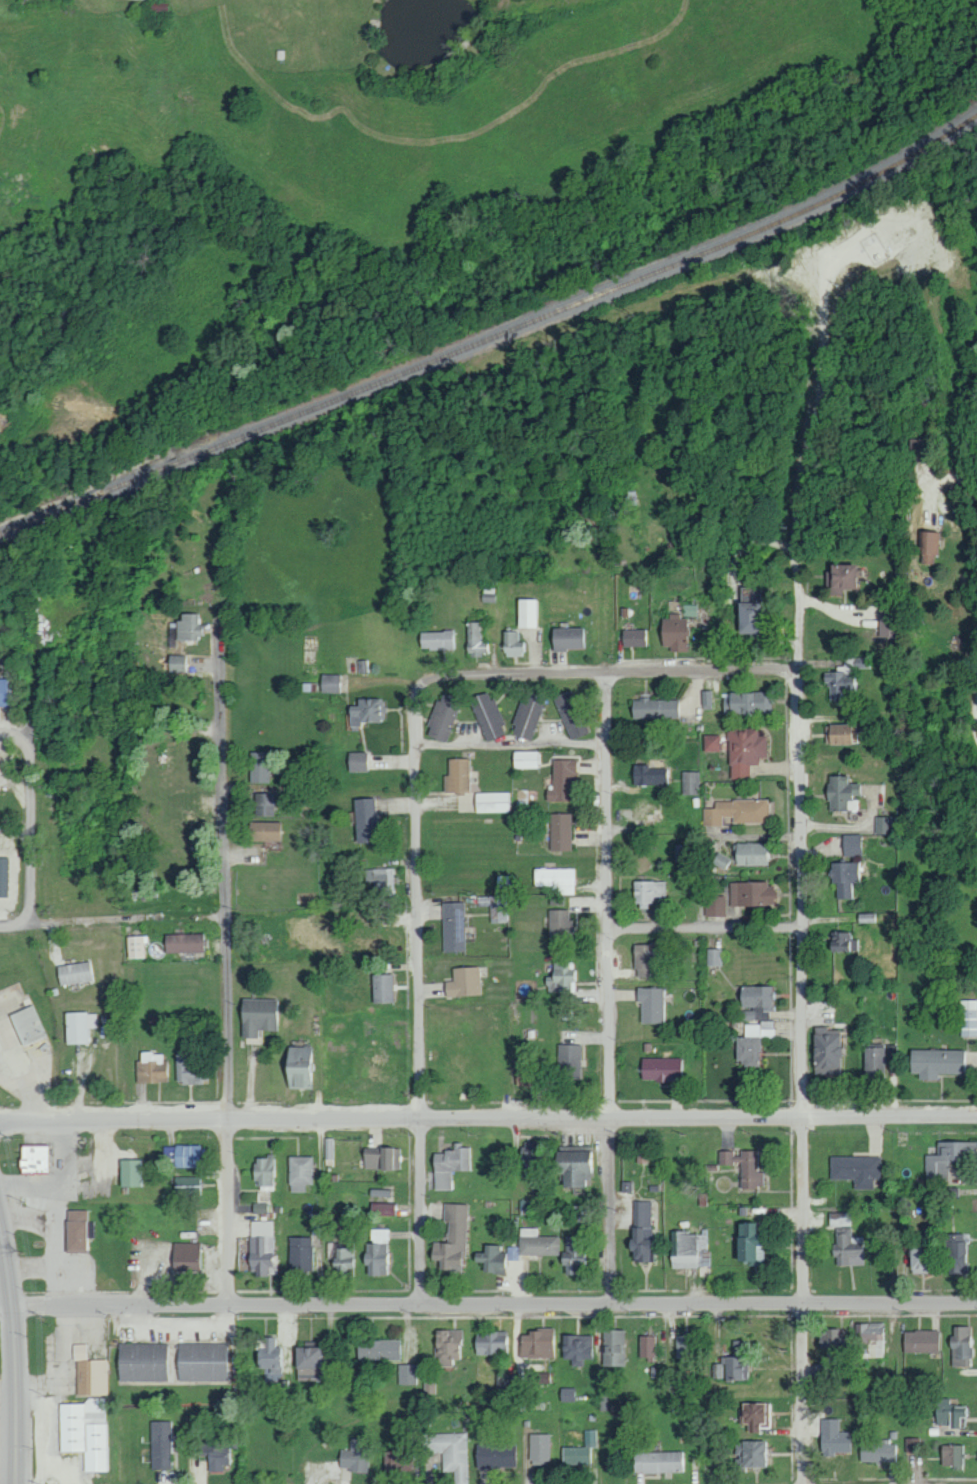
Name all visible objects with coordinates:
building: (31, 0)
building: (159, 6)
building: (0, 312)
railway: (494, 337)
building: (929, 545)
building: (839, 576)
building: (747, 611)
building: (527, 612)
building: (886, 622)
building: (672, 632)
building: (632, 637)
building: (568, 638)
building: (437, 639)
building: (477, 639)
building: (512, 644)
building: (177, 663)
road: (605, 672)
building: (840, 678)
building: (331, 682)
road: (24, 685)
building: (2, 692)
building: (706, 698)
building: (747, 702)
building: (654, 707)
building: (366, 711)
building: (527, 714)
building: (568, 714)
building: (487, 715)
building: (442, 716)
building: (838, 733)
road: (12, 735)
building: (711, 742)
building: (744, 749)
building: (524, 759)
building: (357, 761)
building: (260, 766)
building: (648, 774)
building: (456, 775)
building: (561, 780)
building: (690, 782)
building: (840, 792)
building: (493, 801)
building: (264, 803)
building: (737, 811)
building: (364, 819)
building: (882, 824)
road: (32, 826)
building: (264, 831)
building: (560, 831)
building: (851, 844)
building: (751, 853)
building: (722, 860)
building: (3, 876)
building: (556, 878)
building: (844, 878)
building: (381, 880)
building: (649, 891)
building: (751, 893)
building: (557, 900)
building: (715, 905)
building: (495, 906)
road: (112, 918)
building: (559, 922)
building: (453, 926)
road: (674, 931)
road: (605, 933)
building: (182, 942)
building: (842, 942)
building: (136, 946)
building: (715, 957)
building: (645, 959)
building: (73, 972)
building: (561, 977)
building: (463, 981)
building: (382, 988)
road: (228, 993)
building: (755, 1002)
building: (650, 1004)
building: (256, 1016)
building: (968, 1017)
building: (26, 1025)
building: (79, 1026)
building: (752, 1041)
road: (799, 1047)
building: (825, 1050)
building: (568, 1061)
building: (873, 1061)
building: (935, 1062)
building: (297, 1066)
building: (153, 1068)
building: (660, 1068)
building: (190, 1069)
road: (416, 1080)
road: (488, 1120)
building: (331, 1151)
building: (532, 1154)
building: (187, 1155)
building: (641, 1156)
building: (381, 1158)
building: (948, 1158)
building: (33, 1159)
building: (450, 1165)
building: (574, 1165)
building: (743, 1166)
building: (856, 1169)
building: (264, 1171)
building: (131, 1172)
building: (301, 1172)
building: (187, 1186)
building: (260, 1207)
building: (382, 1209)
building: (839, 1218)
building: (77, 1230)
building: (641, 1232)
building: (452, 1240)
building: (537, 1242)
building: (748, 1242)
building: (847, 1247)
building: (263, 1248)
building: (691, 1249)
building: (378, 1251)
building: (956, 1252)
building: (301, 1254)
building: (187, 1255)
building: (922, 1255)
building: (491, 1258)
building: (343, 1259)
building: (571, 1259)
road: (488, 1306)
building: (837, 1337)
building: (822, 1340)
building: (871, 1340)
building: (920, 1341)
building: (491, 1342)
building: (536, 1343)
building: (646, 1346)
building: (447, 1347)
building: (612, 1347)
building: (682, 1347)
building: (961, 1347)
building: (577, 1348)
building: (379, 1349)
road: (19, 1351)
building: (270, 1356)
building: (202, 1361)
building: (142, 1362)
building: (734, 1363)
building: (90, 1372)
building: (407, 1374)
building: (430, 1386)
building: (566, 1394)
building: (942, 1410)
building: (755, 1415)
building: (958, 1415)
building: (87, 1431)
building: (833, 1438)
building: (161, 1444)
building: (539, 1449)
building: (450, 1452)
building: (877, 1452)
building: (751, 1453)
building: (214, 1455)
building: (495, 1455)
building: (575, 1455)
building: (951, 1455)
building: (353, 1459)
building: (658, 1462)

